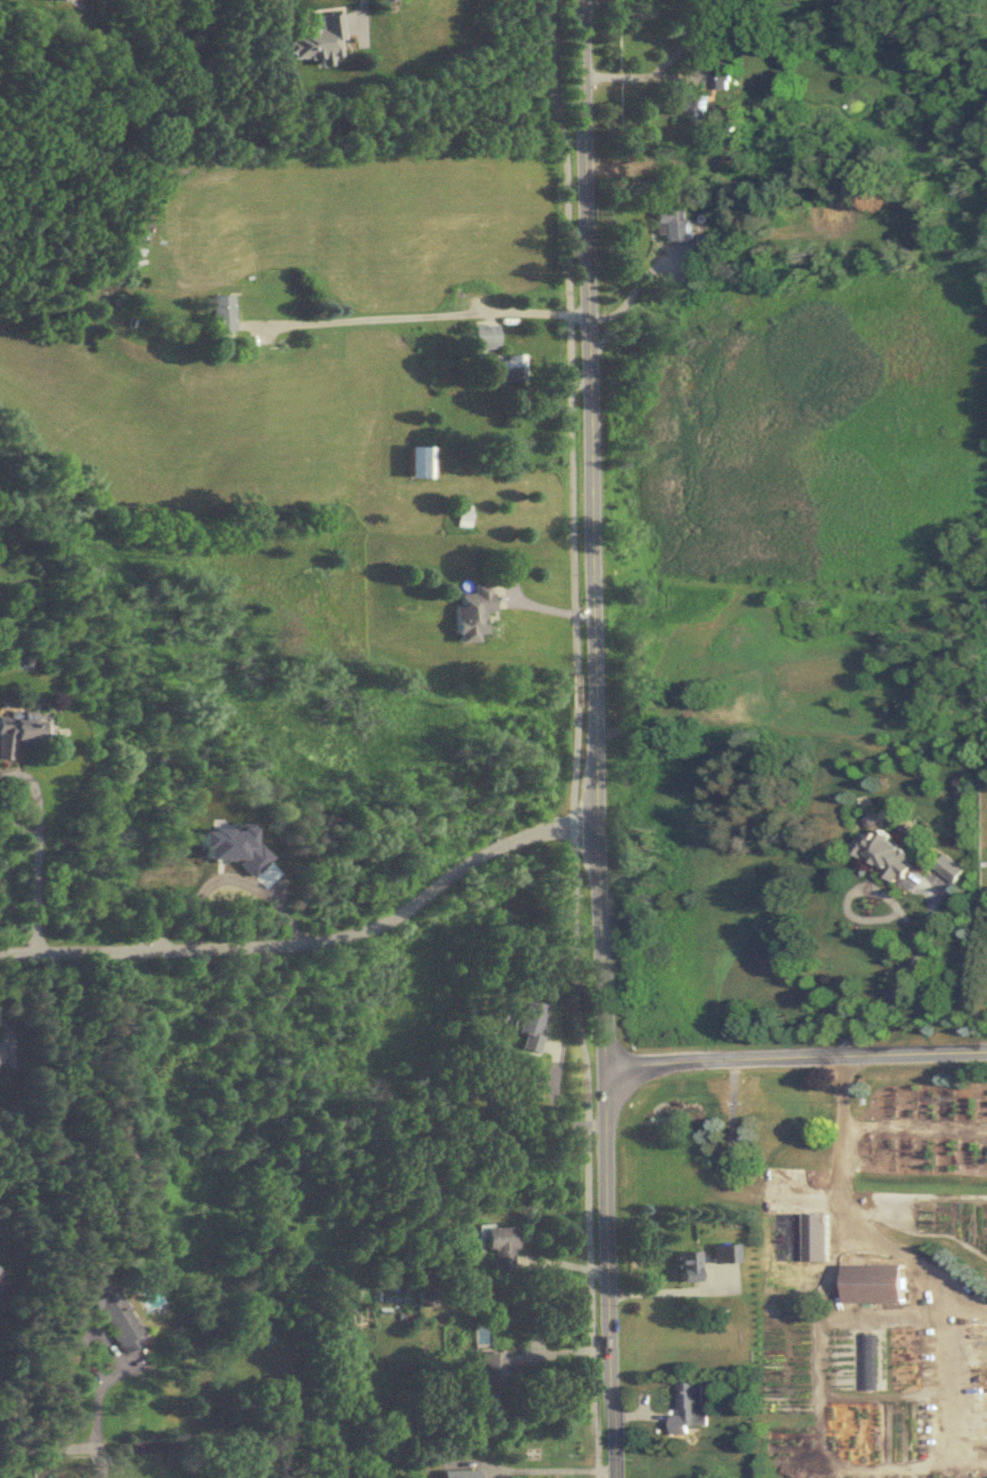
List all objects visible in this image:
building: (55, 0)
road: (359, 2)
building: (317, 39)
road: (685, 75)
building: (685, 101)
building: (835, 211)
building: (673, 226)
road: (628, 292)
road: (416, 313)
building: (222, 314)
road: (570, 334)
building: (486, 336)
building: (507, 368)
building: (421, 463)
building: (464, 515)
building: (473, 612)
road: (575, 689)
building: (753, 705)
building: (17, 731)
road: (597, 738)
road: (35, 791)
road: (19, 825)
building: (884, 853)
road: (264, 893)
road: (37, 895)
road: (907, 924)
road: (314, 942)
building: (531, 1024)
road: (796, 1058)
road: (587, 1092)
road: (852, 1216)
building: (500, 1245)
building: (725, 1253)
building: (689, 1267)
building: (1, 1269)
building: (873, 1282)
building: (429, 1297)
building: (115, 1316)
building: (497, 1375)
road: (819, 1390)
road: (950, 1396)
building: (689, 1403)
road: (95, 1424)
road: (27, 1447)
road: (97, 1460)
road: (5, 1463)
road: (548, 1469)

